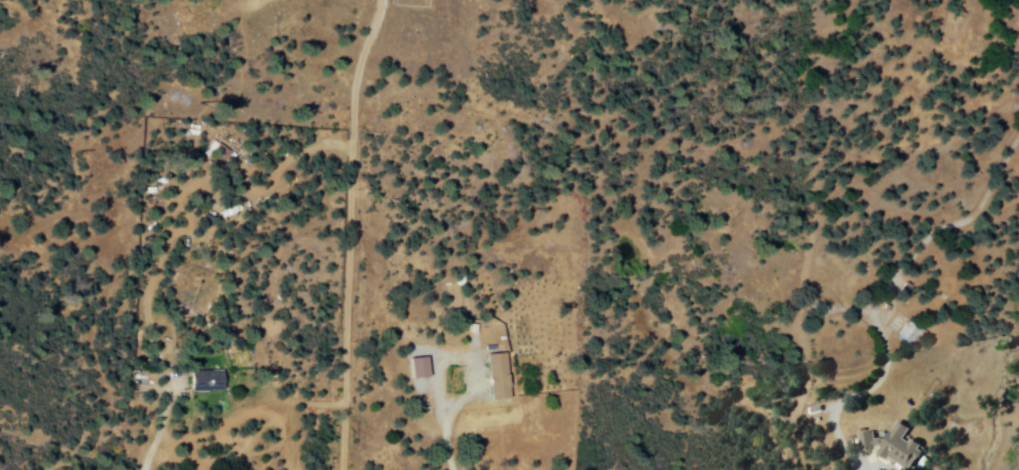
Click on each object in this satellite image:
road: (346, 232)
building: (900, 335)
road: (453, 356)
building: (412, 368)
building: (492, 377)
building: (201, 381)
road: (851, 395)
road: (158, 428)
building: (888, 446)
road: (445, 451)

